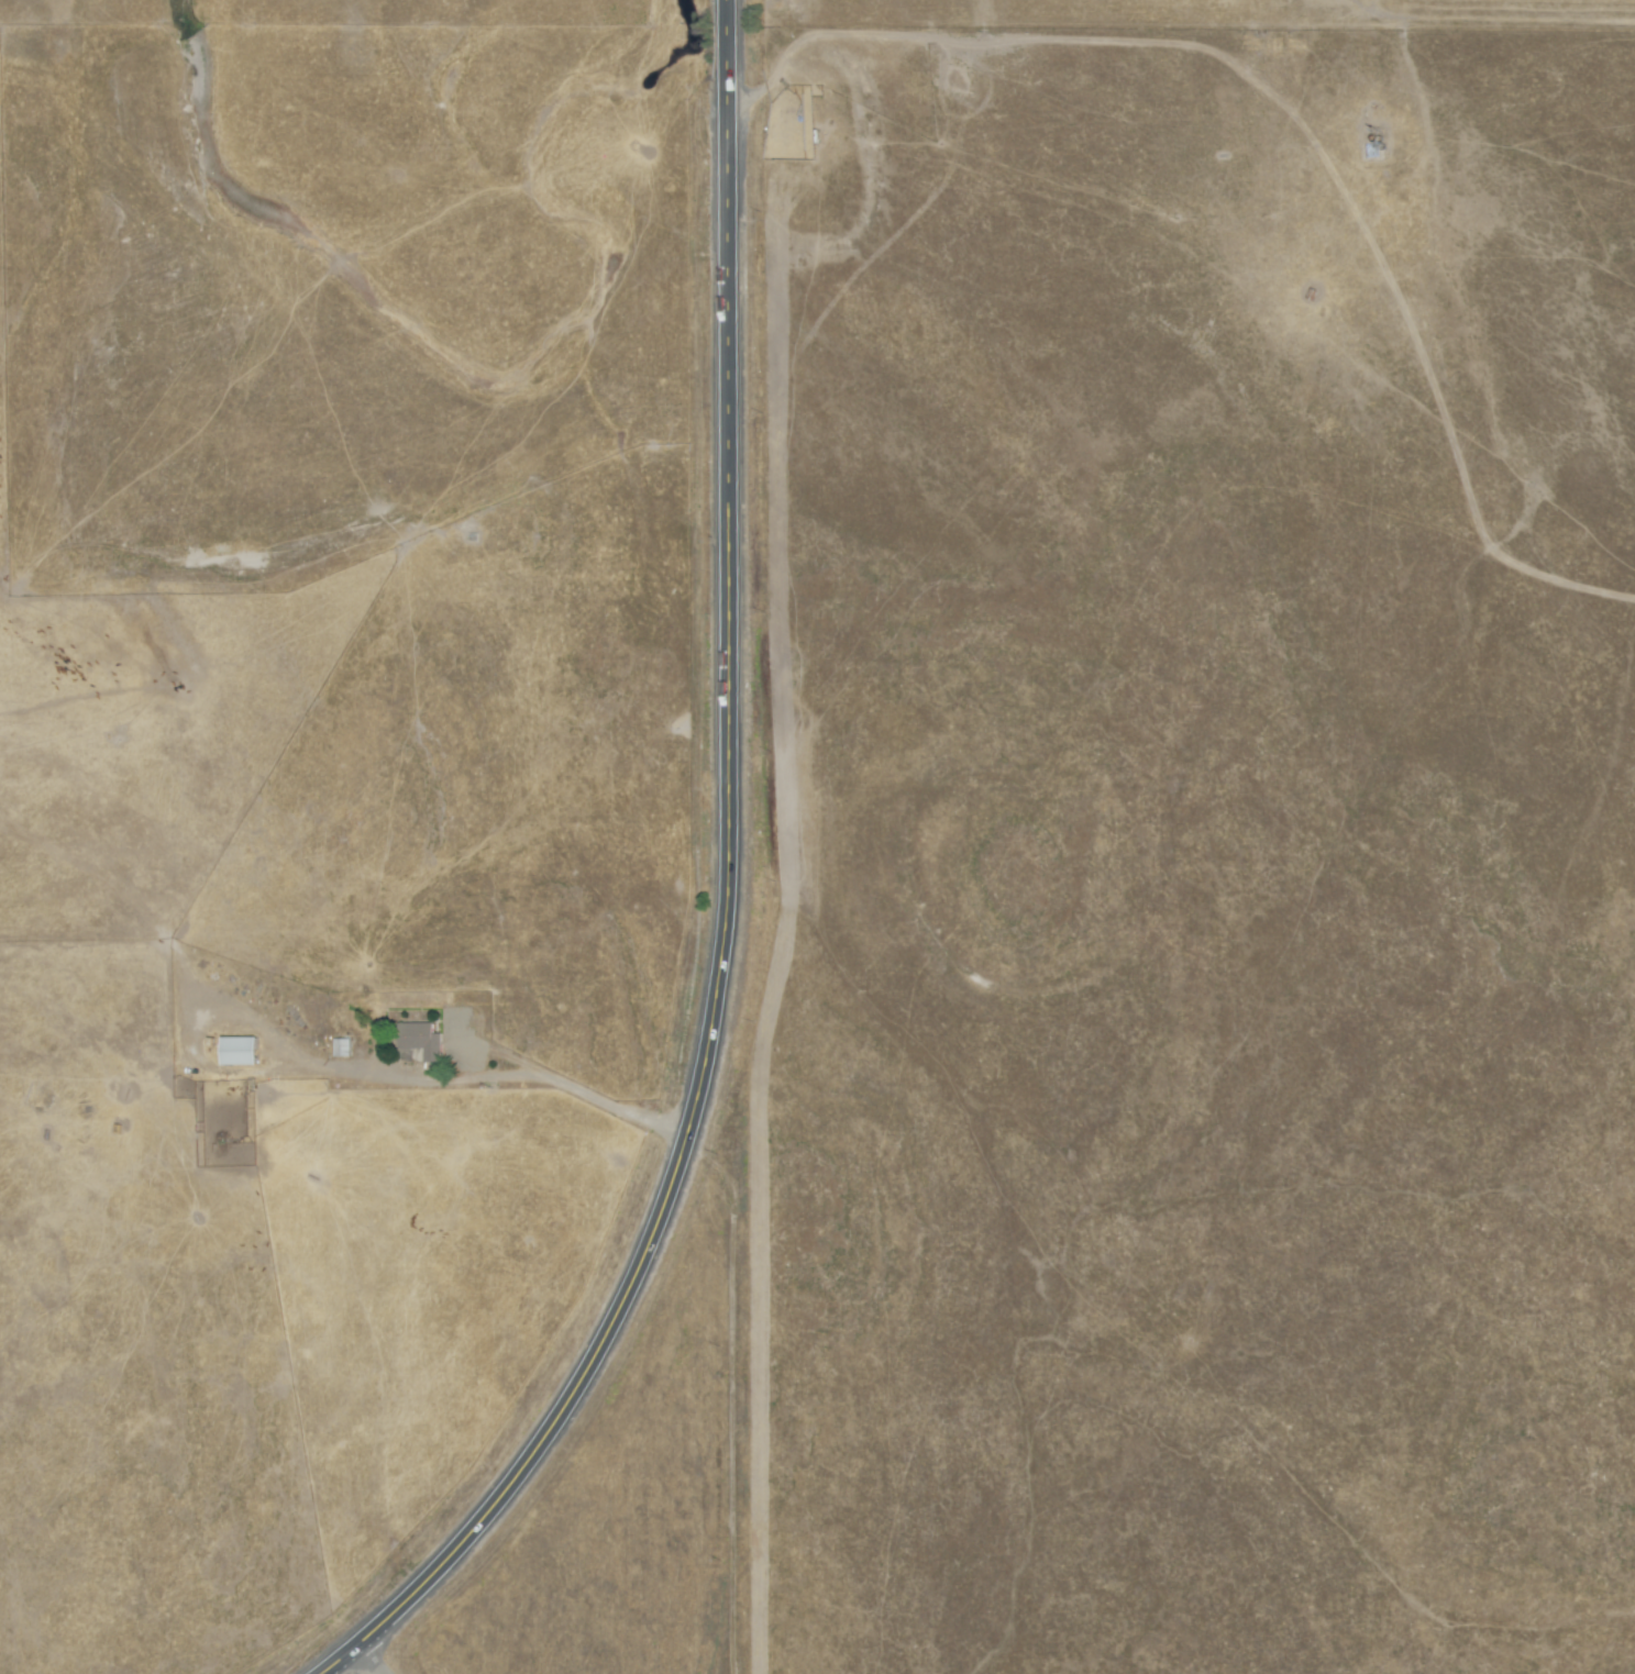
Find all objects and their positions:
building: (1371, 148)
road: (726, 898)
building: (418, 1042)
building: (340, 1047)
building: (237, 1051)
road: (574, 1088)
road: (382, 1656)

